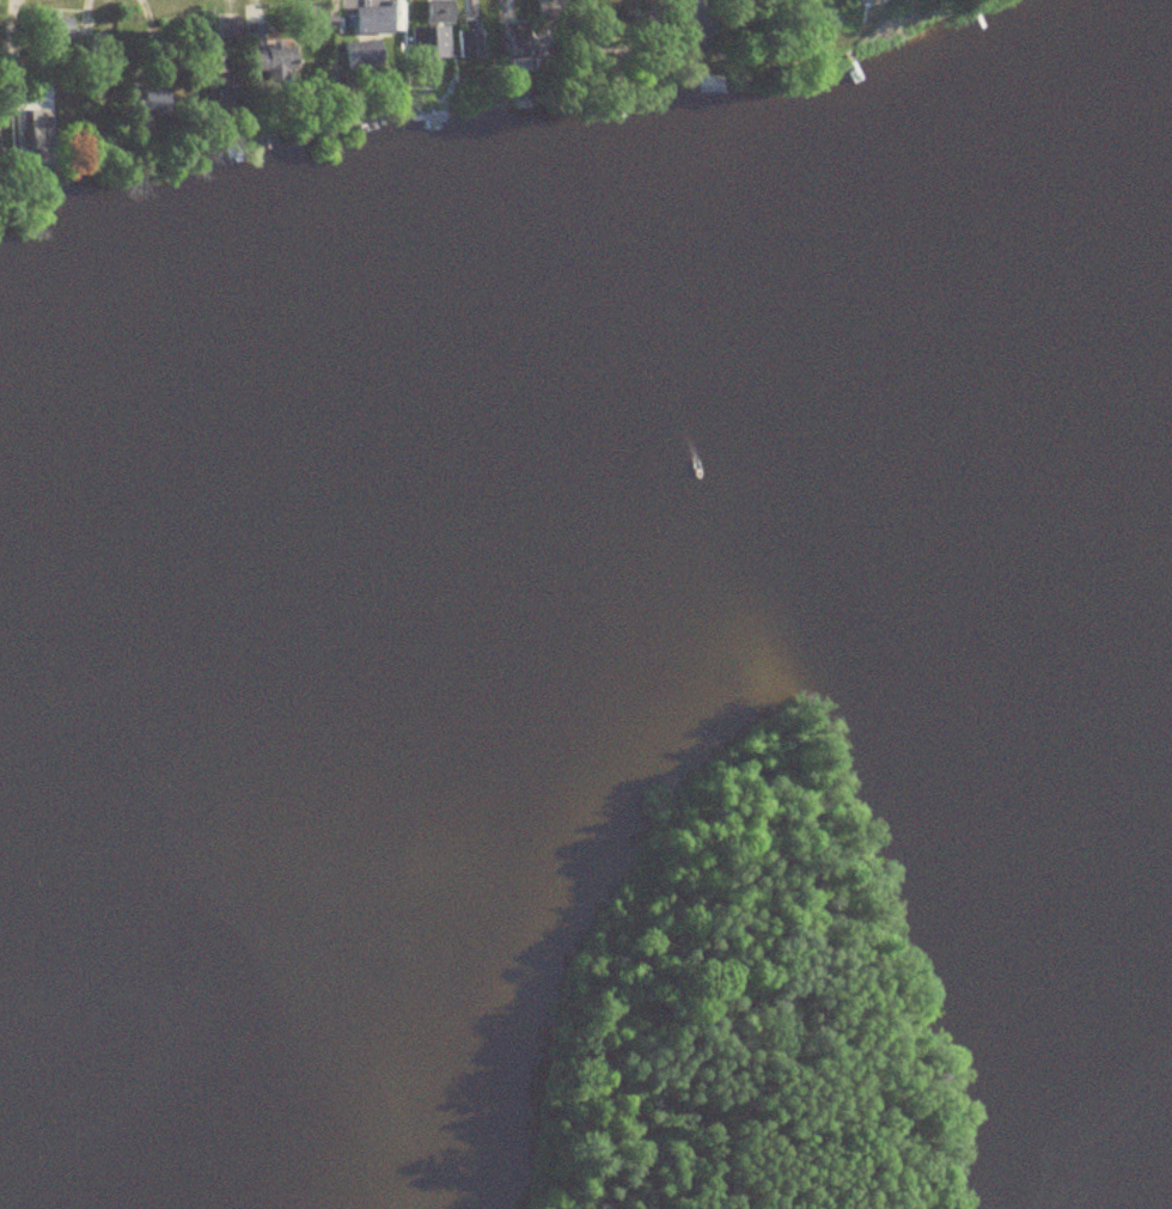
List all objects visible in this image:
building: (700, 18)
building: (374, 19)
building: (227, 28)
building: (61, 30)
building: (517, 35)
building: (469, 38)
building: (437, 43)
road: (19, 57)
building: (225, 85)
building: (31, 126)
river: (429, 513)

